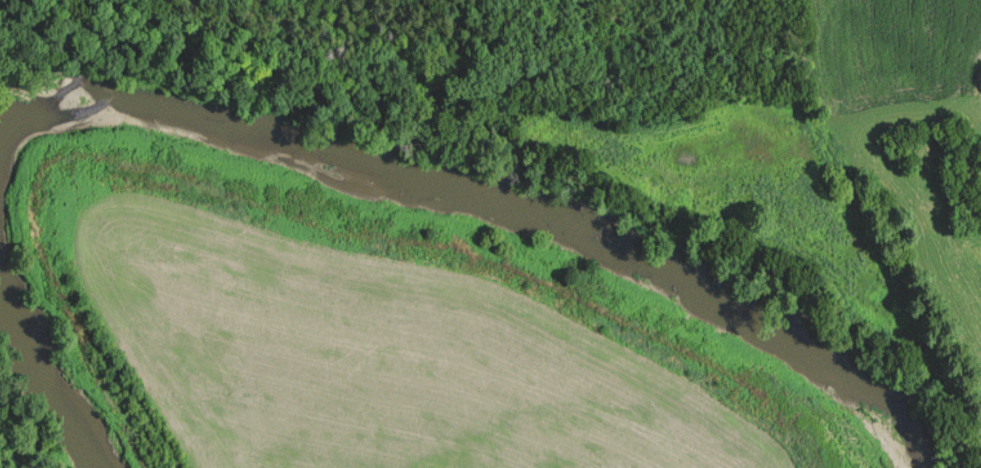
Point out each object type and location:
river: (475, 189)
road: (865, 229)
river: (51, 356)

